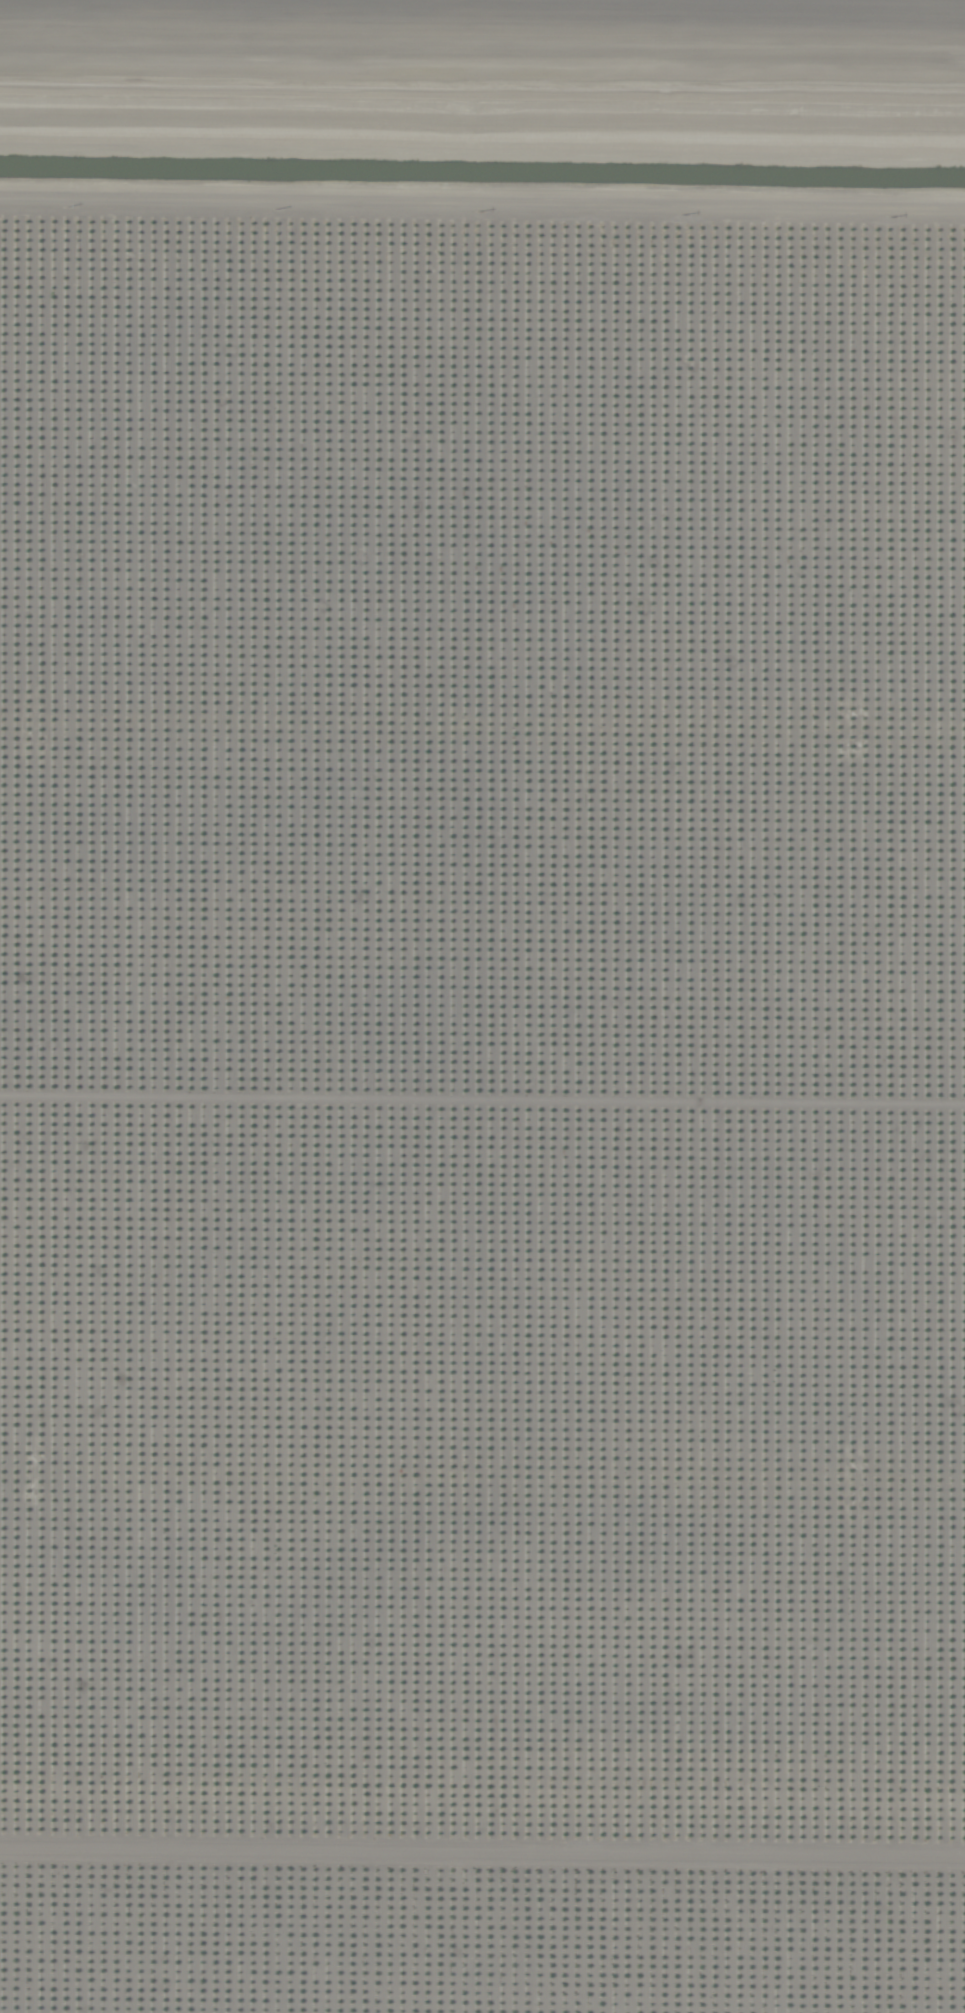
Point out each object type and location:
road: (482, 84)
road: (482, 217)
crop: (482, 1006)

